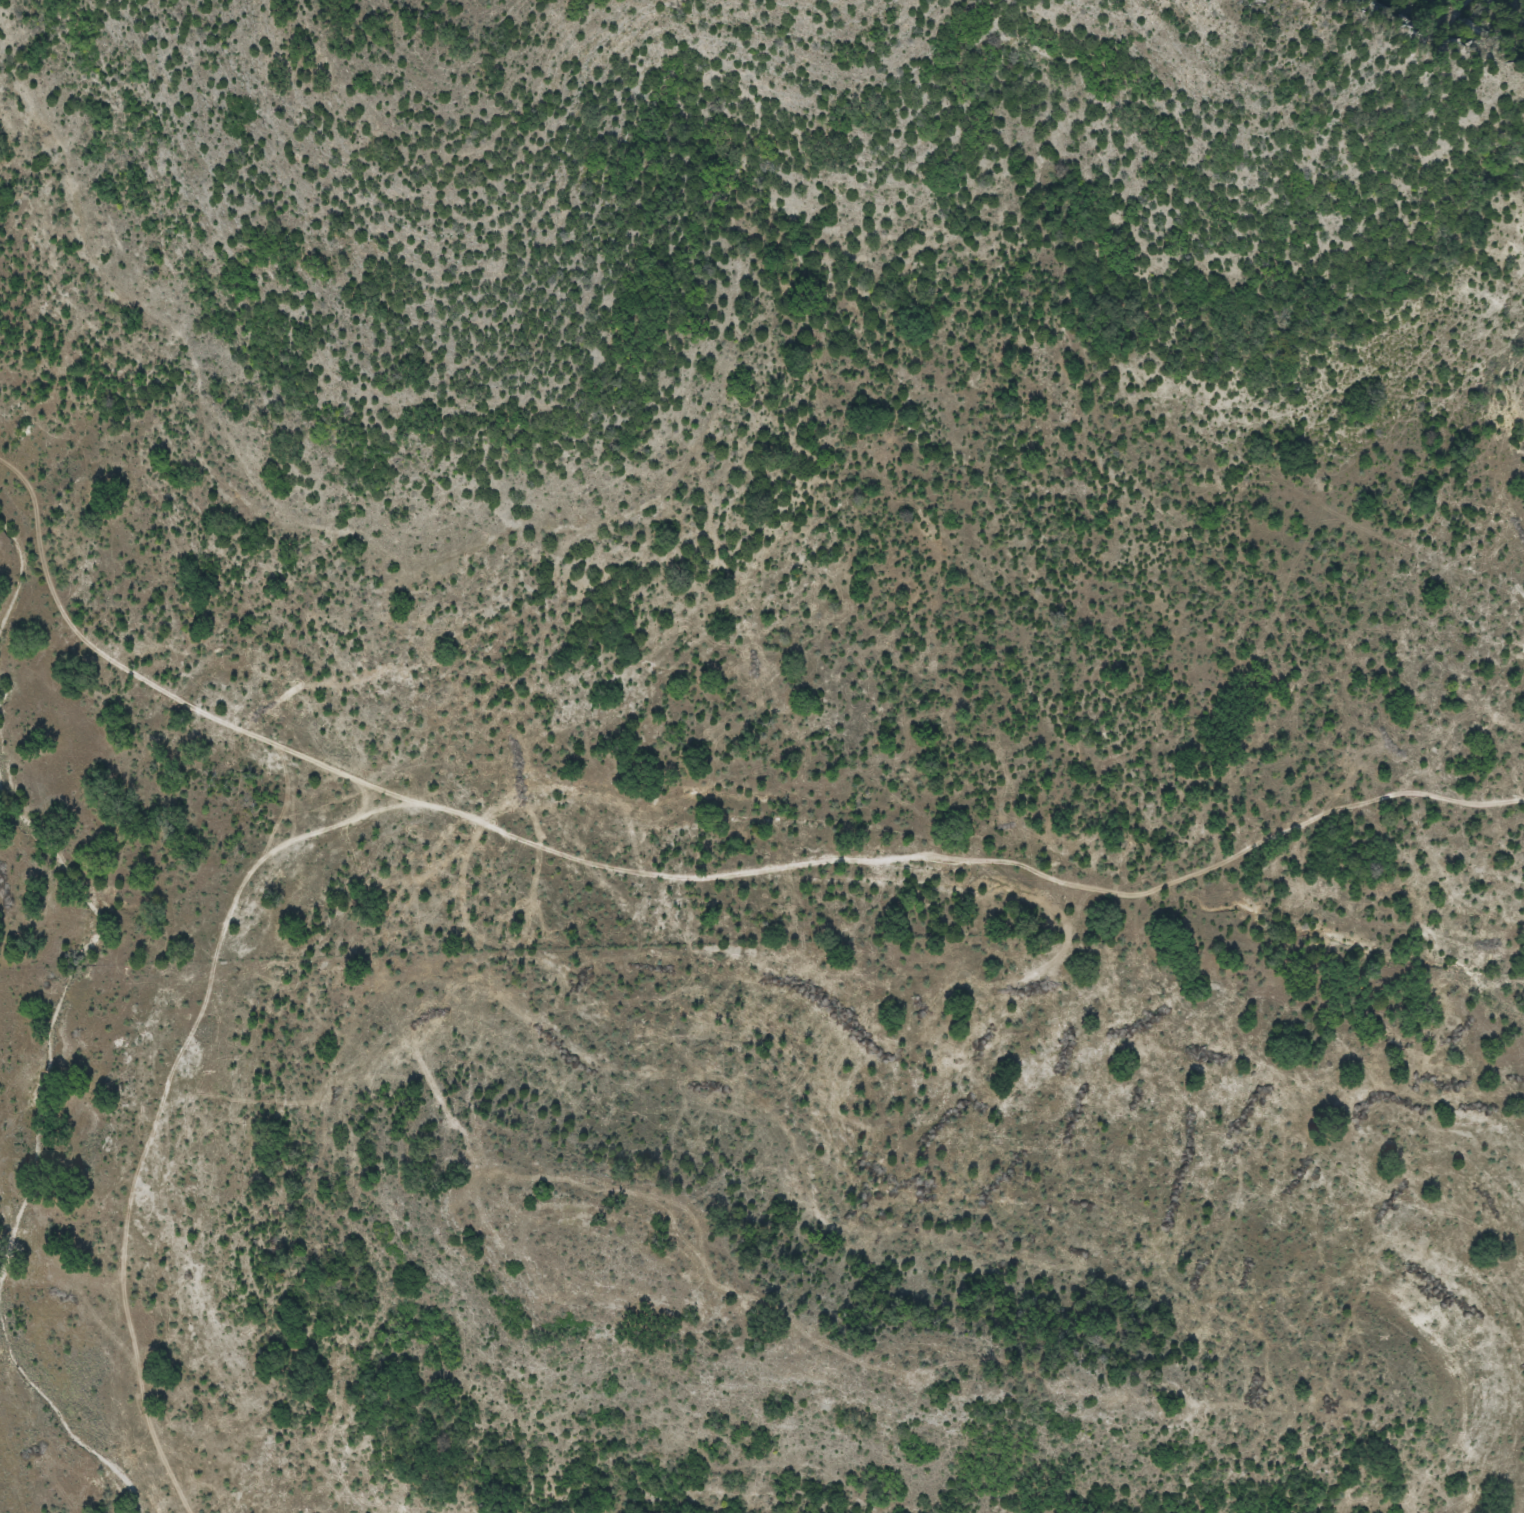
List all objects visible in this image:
road: (558, 849)

